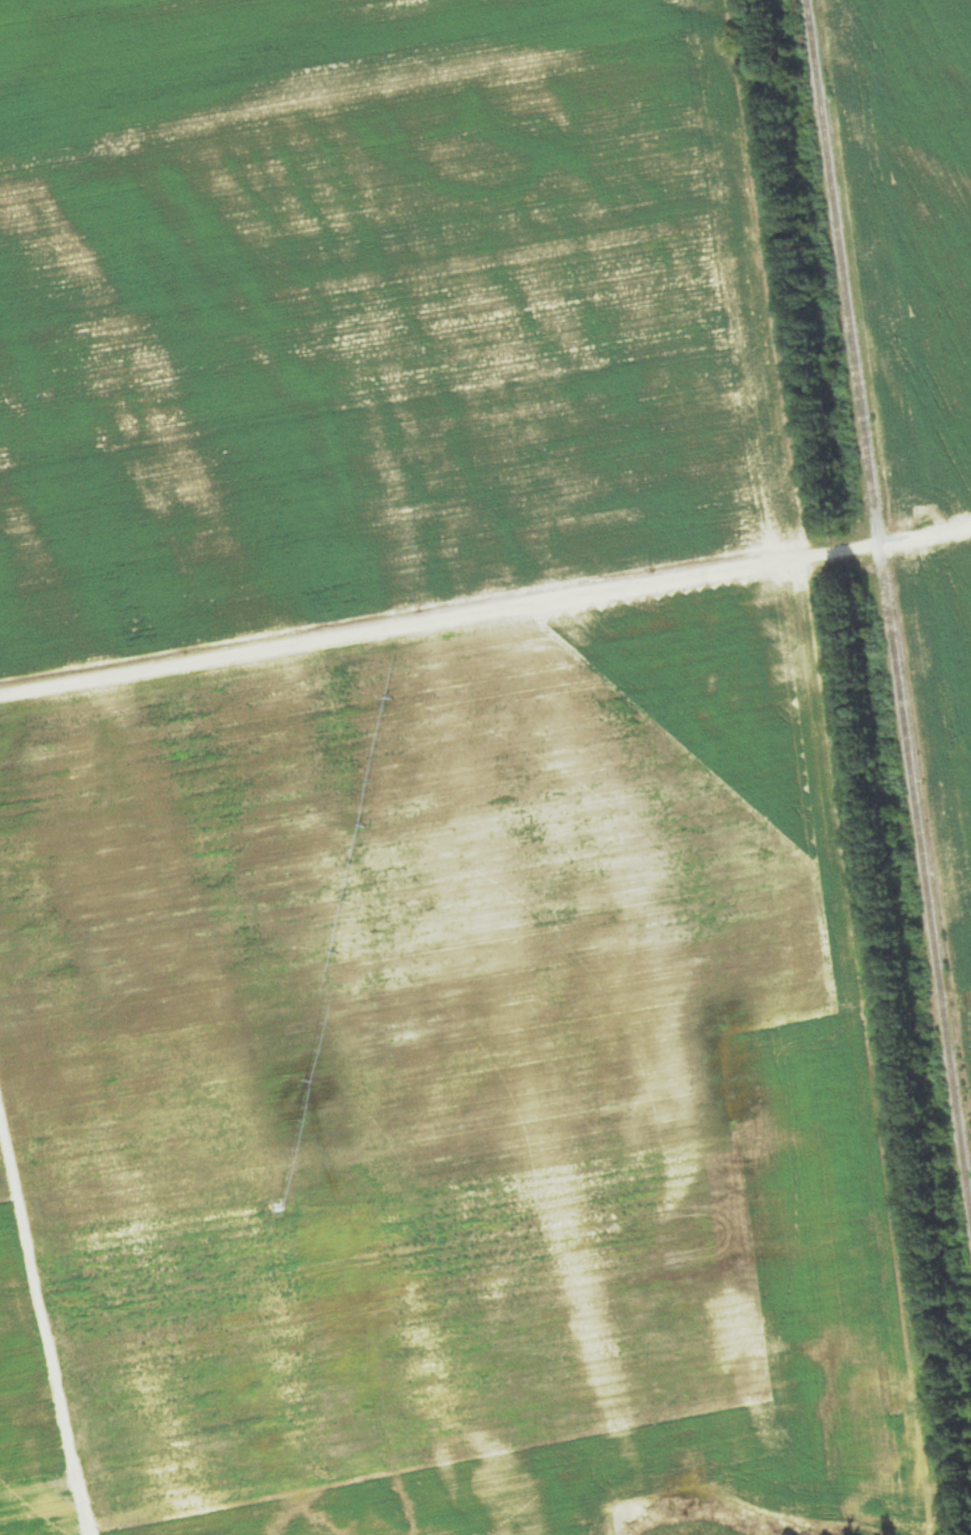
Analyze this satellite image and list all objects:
road: (485, 611)
railway: (888, 611)
road: (45, 1330)

